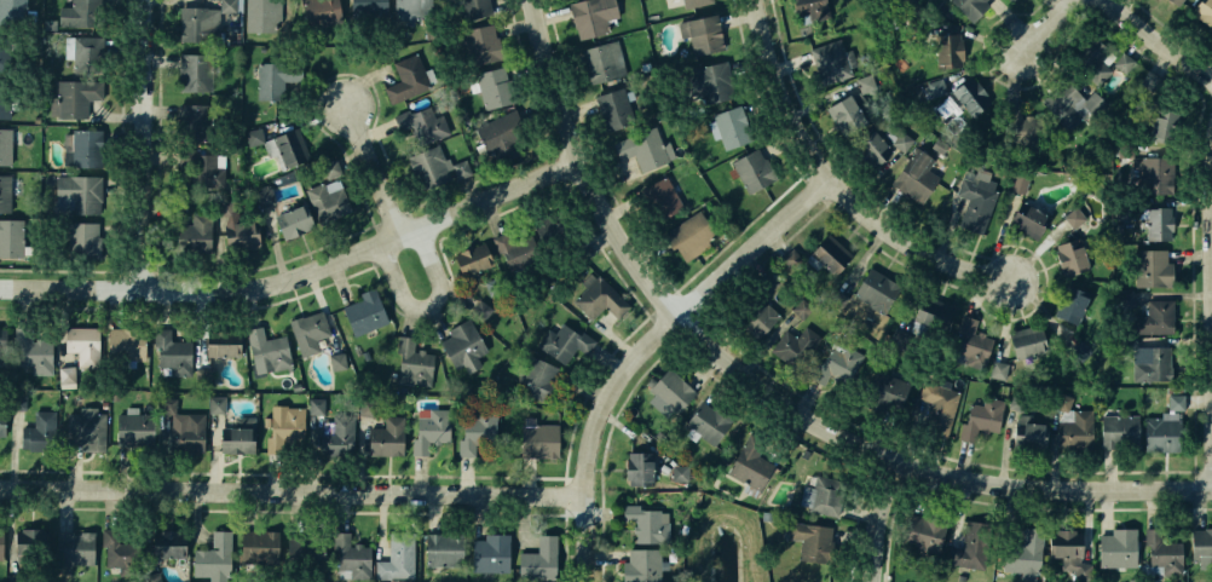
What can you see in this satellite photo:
building: (1010, 0)
building: (1176, 1)
building: (693, 2)
building: (227, 5)
building: (807, 5)
building: (969, 5)
building: (368, 6)
building: (473, 7)
building: (11, 8)
building: (314, 10)
building: (414, 10)
building: (1202, 12)
building: (261, 13)
building: (73, 15)
building: (589, 16)
road: (1049, 21)
building: (196, 25)
building: (700, 34)
road: (1161, 38)
building: (480, 42)
building: (947, 48)
building: (4, 53)
building: (83, 53)
building: (601, 58)
building: (1091, 58)
building: (829, 60)
building: (1125, 63)
building: (191, 73)
building: (406, 76)
building: (272, 77)
building: (1152, 81)
building: (711, 83)
building: (490, 87)
building: (935, 88)
building: (968, 94)
building: (74, 97)
building: (4, 98)
building: (1063, 103)
building: (612, 108)
building: (942, 109)
building: (841, 114)
building: (1018, 121)
building: (189, 122)
building: (420, 125)
building: (729, 125)
building: (1155, 127)
building: (250, 136)
building: (498, 136)
building: (899, 138)
road: (143, 143)
building: (289, 144)
building: (640, 145)
building: (4, 146)
building: (868, 149)
building: (83, 150)
building: (329, 167)
building: (432, 167)
road: (585, 168)
building: (203, 169)
building: (754, 169)
road: (371, 173)
building: (917, 175)
building: (1153, 175)
road: (838, 178)
building: (1018, 184)
building: (7, 190)
building: (76, 192)
building: (264, 194)
building: (662, 195)
road: (491, 198)
building: (977, 198)
building: (325, 200)
building: (174, 207)
building: (225, 207)
building: (1022, 214)
building: (1075, 218)
building: (288, 220)
building: (1153, 221)
building: (194, 229)
building: (241, 235)
building: (10, 237)
building: (689, 237)
building: (83, 238)
building: (512, 243)
building: (583, 248)
building: (826, 254)
building: (1068, 255)
road: (409, 259)
building: (469, 259)
building: (790, 260)
building: (1150, 267)
building: (764, 284)
building: (873, 286)
road: (204, 288)
building: (596, 296)
building: (836, 298)
building: (1124, 301)
building: (1069, 305)
building: (802, 307)
building: (481, 310)
building: (365, 312)
building: (929, 312)
building: (757, 316)
building: (1156, 316)
road: (1211, 325)
building: (307, 330)
building: (898, 339)
building: (2, 340)
building: (81, 341)
building: (1026, 342)
building: (123, 344)
building: (220, 345)
building: (559, 345)
road: (648, 345)
building: (795, 345)
building: (970, 346)
building: (1126, 346)
building: (463, 347)
building: (1079, 347)
building: (266, 351)
building: (172, 353)
building: (34, 355)
building: (839, 358)
building: (337, 362)
building: (1156, 362)
building: (412, 364)
building: (999, 369)
building: (67, 375)
building: (202, 376)
building: (535, 379)
building: (888, 384)
building: (673, 392)
building: (1061, 401)
building: (19, 402)
building: (936, 402)
building: (168, 404)
building: (215, 404)
building: (314, 405)
building: (364, 407)
building: (981, 416)
building: (2, 421)
building: (82, 422)
building: (711, 422)
building: (287, 426)
building: (1162, 427)
building: (134, 428)
building: (431, 430)
building: (1073, 430)
building: (1118, 431)
building: (40, 432)
building: (186, 433)
building: (335, 433)
building: (1027, 433)
building: (236, 434)
building: (386, 437)
building: (536, 439)
building: (475, 442)
building: (750, 467)
road: (923, 467)
building: (639, 471)
building: (676, 473)
road: (295, 491)
building: (825, 500)
road: (883, 519)
building: (645, 522)
building: (919, 531)
building: (808, 538)
building: (29, 540)
building: (163, 542)
building: (1, 543)
building: (1201, 544)
building: (254, 546)
building: (1115, 548)
building: (441, 549)
building: (71, 551)
building: (120, 551)
building: (487, 551)
building: (214, 552)
building: (348, 553)
building: (1025, 553)
building: (1067, 554)
building: (1166, 554)
building: (966, 555)
building: (394, 557)
building: (537, 560)
building: (637, 566)

